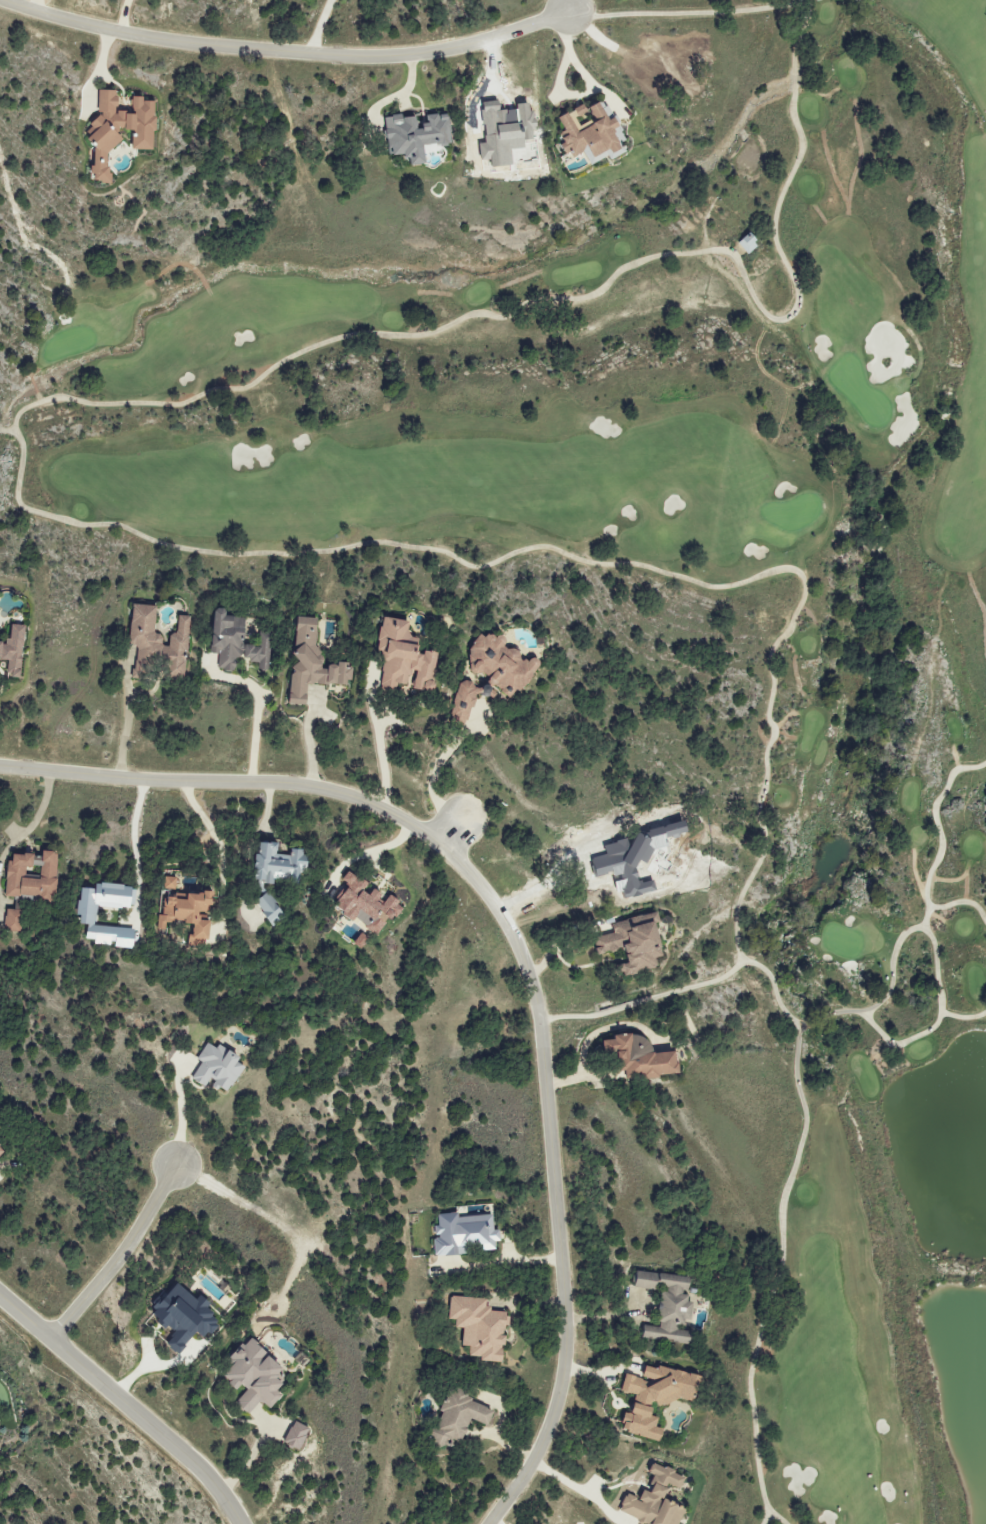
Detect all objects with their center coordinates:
road: (564, 6)
road: (40, 7)
road: (123, 18)
road: (320, 27)
road: (284, 52)
road: (556, 88)
road: (399, 93)
building: (507, 131)
building: (592, 132)
building: (419, 135)
building: (105, 138)
building: (750, 244)
building: (238, 642)
building: (159, 643)
building: (15, 650)
building: (405, 657)
building: (314, 663)
building: (501, 663)
building: (468, 699)
road: (254, 724)
road: (125, 734)
road: (436, 771)
road: (39, 814)
road: (208, 823)
road: (448, 836)
road: (131, 850)
building: (280, 863)
building: (32, 875)
building: (170, 882)
building: (366, 901)
building: (271, 909)
building: (189, 914)
building: (85, 916)
building: (13, 921)
building: (636, 943)
road: (554, 944)
road: (519, 954)
building: (646, 1058)
building: (219, 1067)
road: (179, 1113)
building: (2, 1152)
building: (465, 1234)
road: (120, 1257)
building: (668, 1307)
building: (187, 1317)
building: (479, 1327)
building: (256, 1377)
building: (659, 1398)
road: (125, 1406)
building: (461, 1418)
building: (0, 1423)
building: (298, 1436)
road: (584, 1489)
building: (658, 1500)
road: (765, 1519)

